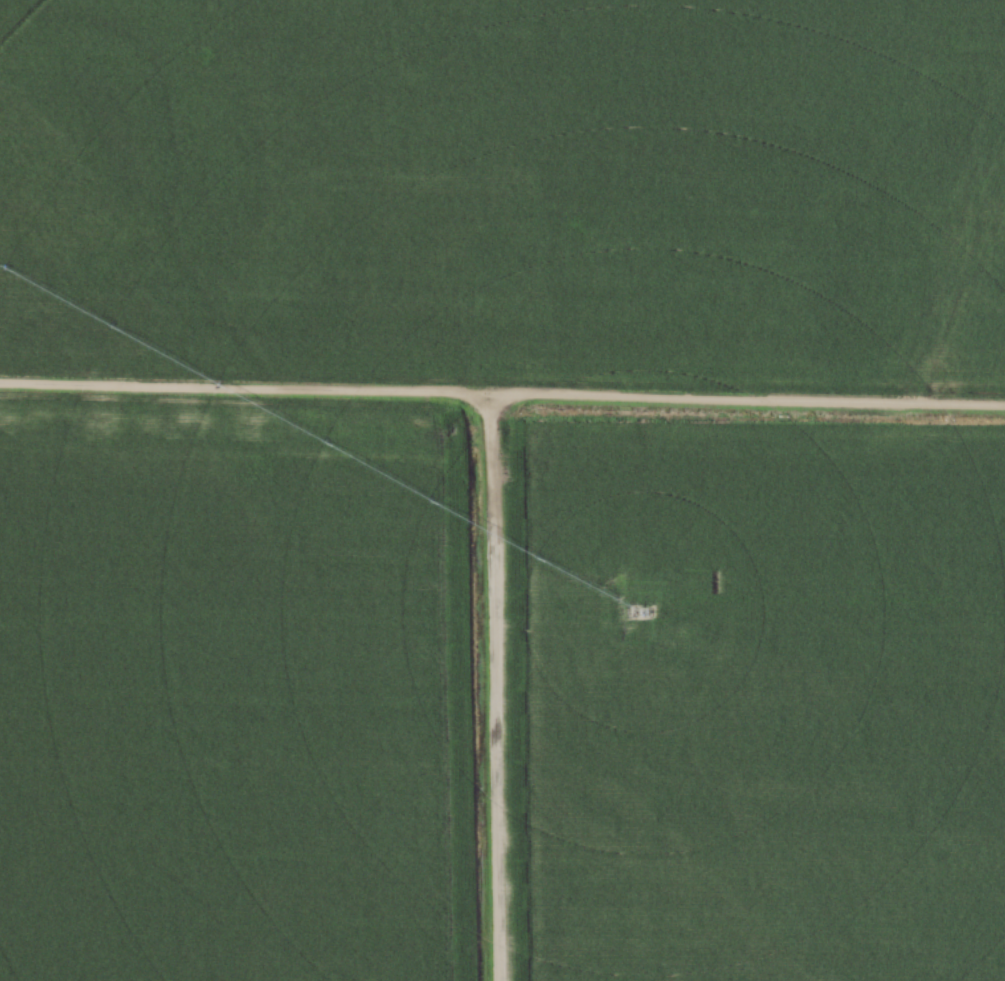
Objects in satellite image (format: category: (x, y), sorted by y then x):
road: (502, 395)
road: (494, 688)

